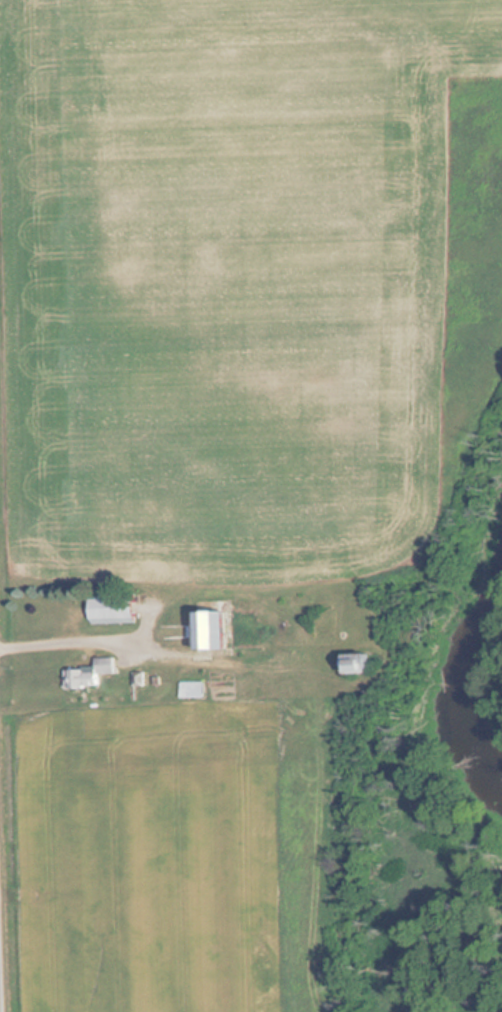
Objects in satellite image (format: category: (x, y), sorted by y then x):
building: (105, 611)
building: (205, 630)
building: (349, 664)
building: (86, 674)
building: (188, 690)
river: (465, 693)
road: (1, 964)

